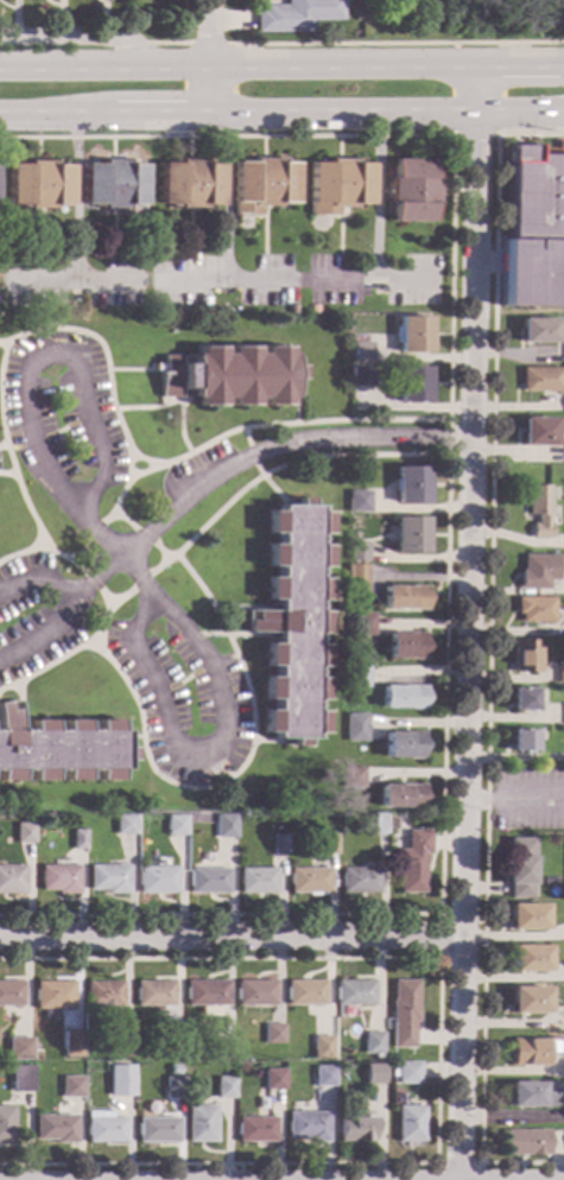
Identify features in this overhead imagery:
building: (284, 17)
park: (463, 19)
road: (82, 37)
road: (163, 43)
road: (394, 43)
road: (205, 57)
road: (281, 68)
road: (186, 71)
road: (557, 109)
road: (281, 114)
road: (476, 134)
building: (38, 184)
building: (113, 184)
building: (190, 184)
building: (261, 185)
building: (337, 186)
building: (411, 190)
road: (76, 198)
road: (227, 198)
road: (380, 198)
building: (533, 231)
parking lot: (224, 280)
road: (214, 283)
building: (312, 310)
building: (538, 330)
building: (413, 335)
road: (2, 345)
building: (563, 350)
building: (361, 353)
road: (31, 366)
road: (129, 369)
building: (229, 376)
building: (361, 378)
building: (541, 380)
building: (412, 385)
road: (109, 391)
road: (175, 401)
road: (296, 402)
parking lot: (59, 411)
building: (540, 431)
road: (46, 436)
road: (2, 448)
road: (251, 452)
road: (243, 459)
road: (7, 474)
road: (132, 475)
building: (410, 484)
road: (120, 494)
road: (278, 499)
building: (357, 501)
building: (539, 510)
road: (118, 518)
road: (446, 518)
building: (408, 534)
road: (91, 535)
road: (144, 537)
building: (353, 538)
building: (356, 552)
road: (56, 553)
road: (170, 558)
road: (72, 560)
road: (163, 560)
building: (537, 572)
building: (355, 579)
road: (90, 581)
road: (139, 582)
building: (404, 597)
road: (113, 602)
road: (242, 608)
road: (65, 609)
building: (536, 609)
parking lot: (32, 615)
road: (102, 622)
building: (292, 622)
road: (468, 623)
building: (362, 624)
road: (232, 635)
building: (405, 646)
road: (487, 656)
building: (525, 656)
road: (5, 673)
building: (560, 673)
road: (243, 677)
building: (356, 677)
road: (184, 679)
road: (234, 690)
building: (403, 697)
parking lot: (183, 699)
building: (524, 699)
road: (18, 705)
building: (355, 728)
road: (267, 741)
building: (522, 741)
road: (222, 743)
building: (403, 746)
building: (58, 749)
building: (351, 778)
building: (400, 797)
road: (515, 798)
parking lot: (528, 798)
building: (123, 824)
building: (379, 824)
building: (175, 825)
building: (224, 826)
building: (23, 833)
building: (77, 839)
building: (279, 844)
building: (329, 844)
building: (412, 861)
building: (519, 868)
building: (58, 878)
building: (107, 878)
building: (11, 880)
building: (156, 880)
building: (255, 880)
building: (360, 880)
building: (208, 881)
building: (309, 881)
road: (441, 915)
building: (526, 918)
road: (232, 935)
building: (528, 959)
building: (205, 992)
building: (304, 992)
building: (11, 994)
building: (154, 994)
building: (255, 994)
building: (355, 994)
building: (103, 996)
building: (52, 997)
building: (527, 1000)
building: (404, 1014)
building: (272, 1034)
building: (172, 1043)
building: (373, 1043)
building: (71, 1045)
building: (119, 1046)
building: (322, 1047)
building: (19, 1048)
building: (221, 1049)
building: (527, 1053)
road: (438, 1059)
building: (563, 1067)
building: (173, 1070)
building: (407, 1072)
building: (374, 1074)
building: (323, 1077)
building: (20, 1078)
building: (273, 1079)
building: (119, 1081)
building: (71, 1087)
building: (173, 1087)
building: (224, 1089)
building: (536, 1095)
building: (199, 1124)
building: (408, 1124)
building: (6, 1125)
building: (306, 1127)
building: (55, 1128)
building: (103, 1128)
building: (356, 1129)
building: (157, 1130)
building: (254, 1130)
building: (526, 1142)
road: (457, 1163)
road: (195, 1172)
road: (239, 1172)

